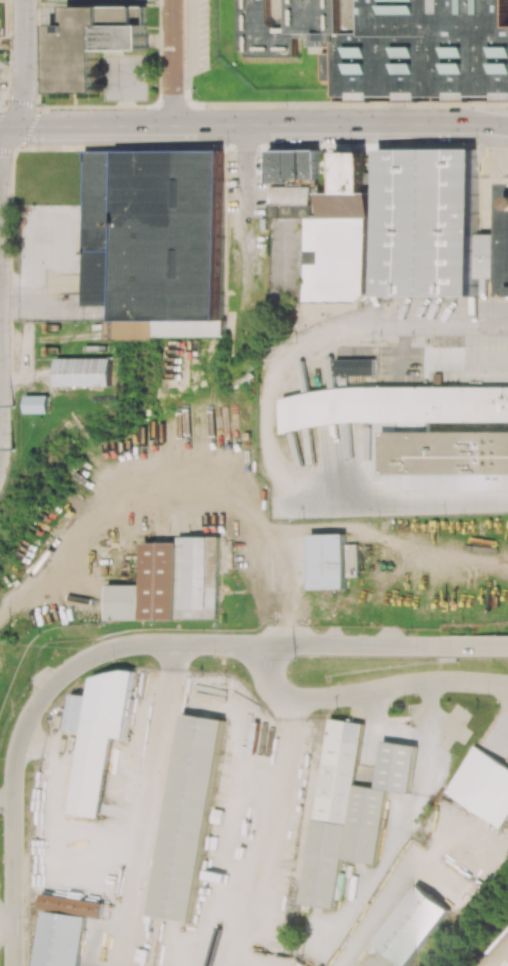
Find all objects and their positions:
parking lot: (196, 36)
road: (191, 42)
building: (91, 43)
building: (392, 45)
road: (160, 50)
road: (171, 61)
road: (23, 78)
road: (174, 99)
road: (342, 102)
road: (254, 122)
traffic signals: (10, 126)
road: (383, 145)
road: (246, 146)
road: (503, 162)
building: (328, 166)
road: (499, 174)
building: (433, 223)
building: (319, 228)
building: (155, 233)
road: (250, 233)
road: (471, 362)
building: (354, 366)
building: (85, 371)
building: (37, 403)
power tower: (14, 404)
road: (263, 416)
power tower: (14, 451)
building: (447, 452)
building: (329, 561)
building: (173, 583)
power tower: (12, 642)
road: (124, 643)
road: (351, 646)
road: (471, 647)
power tower: (297, 659)
road: (367, 691)
building: (97, 736)
building: (482, 786)
road: (148, 805)
road: (57, 806)
building: (350, 807)
building: (188, 817)
road: (255, 837)
road: (12, 847)
building: (415, 923)
building: (65, 929)
railway: (215, 944)

